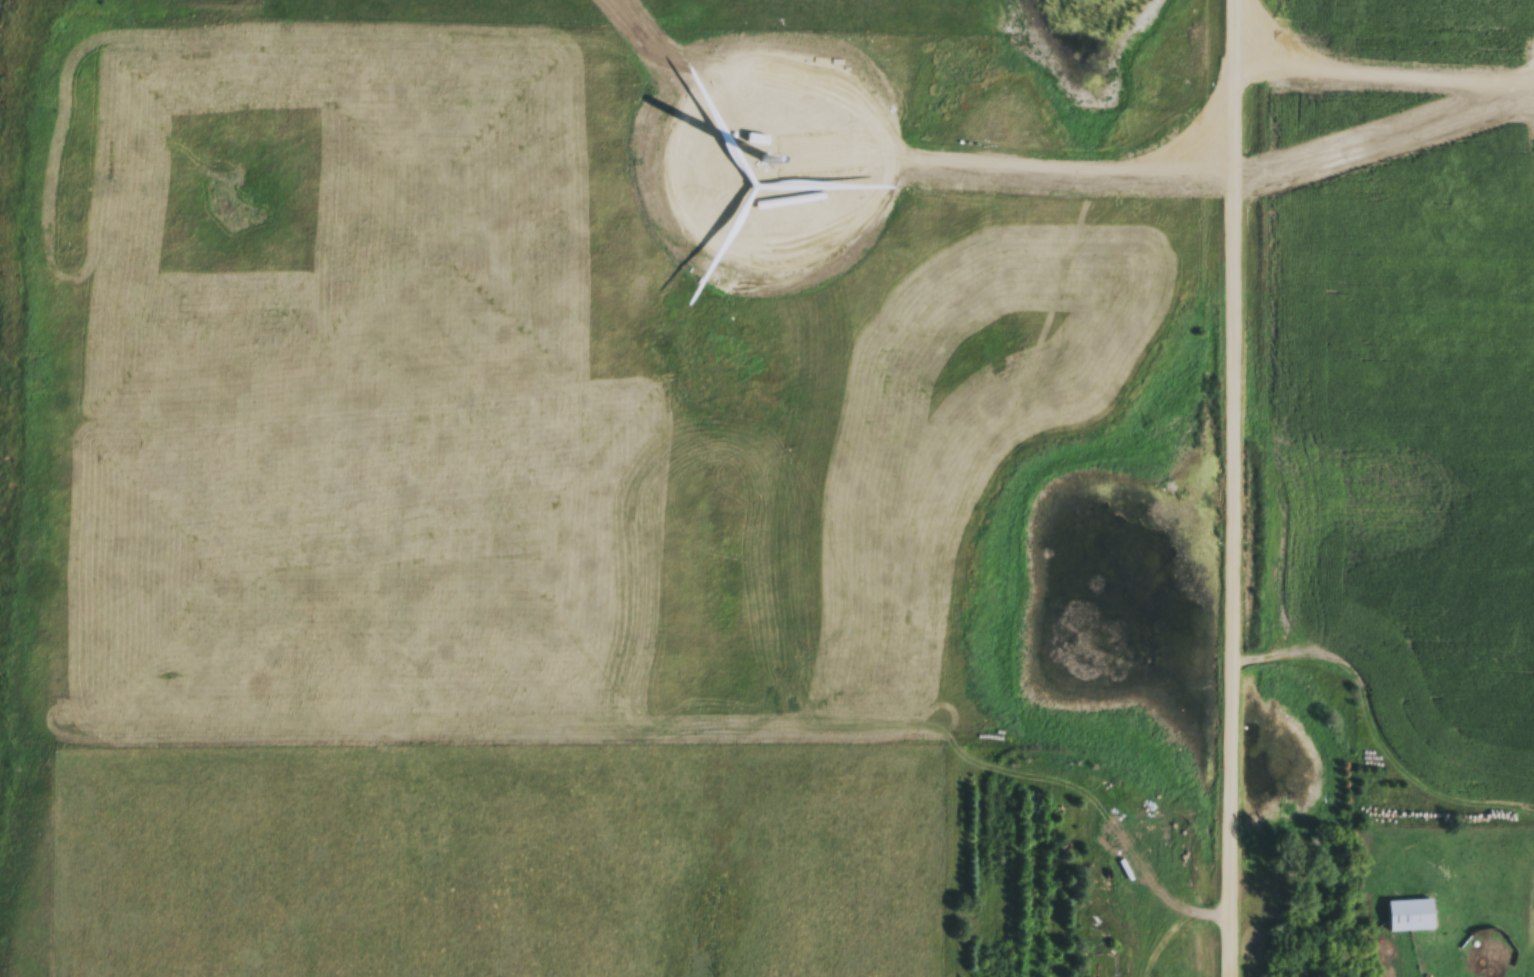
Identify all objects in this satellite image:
wind turbine: (763, 161)
road: (1234, 488)
building: (1147, 863)
building: (1412, 917)

